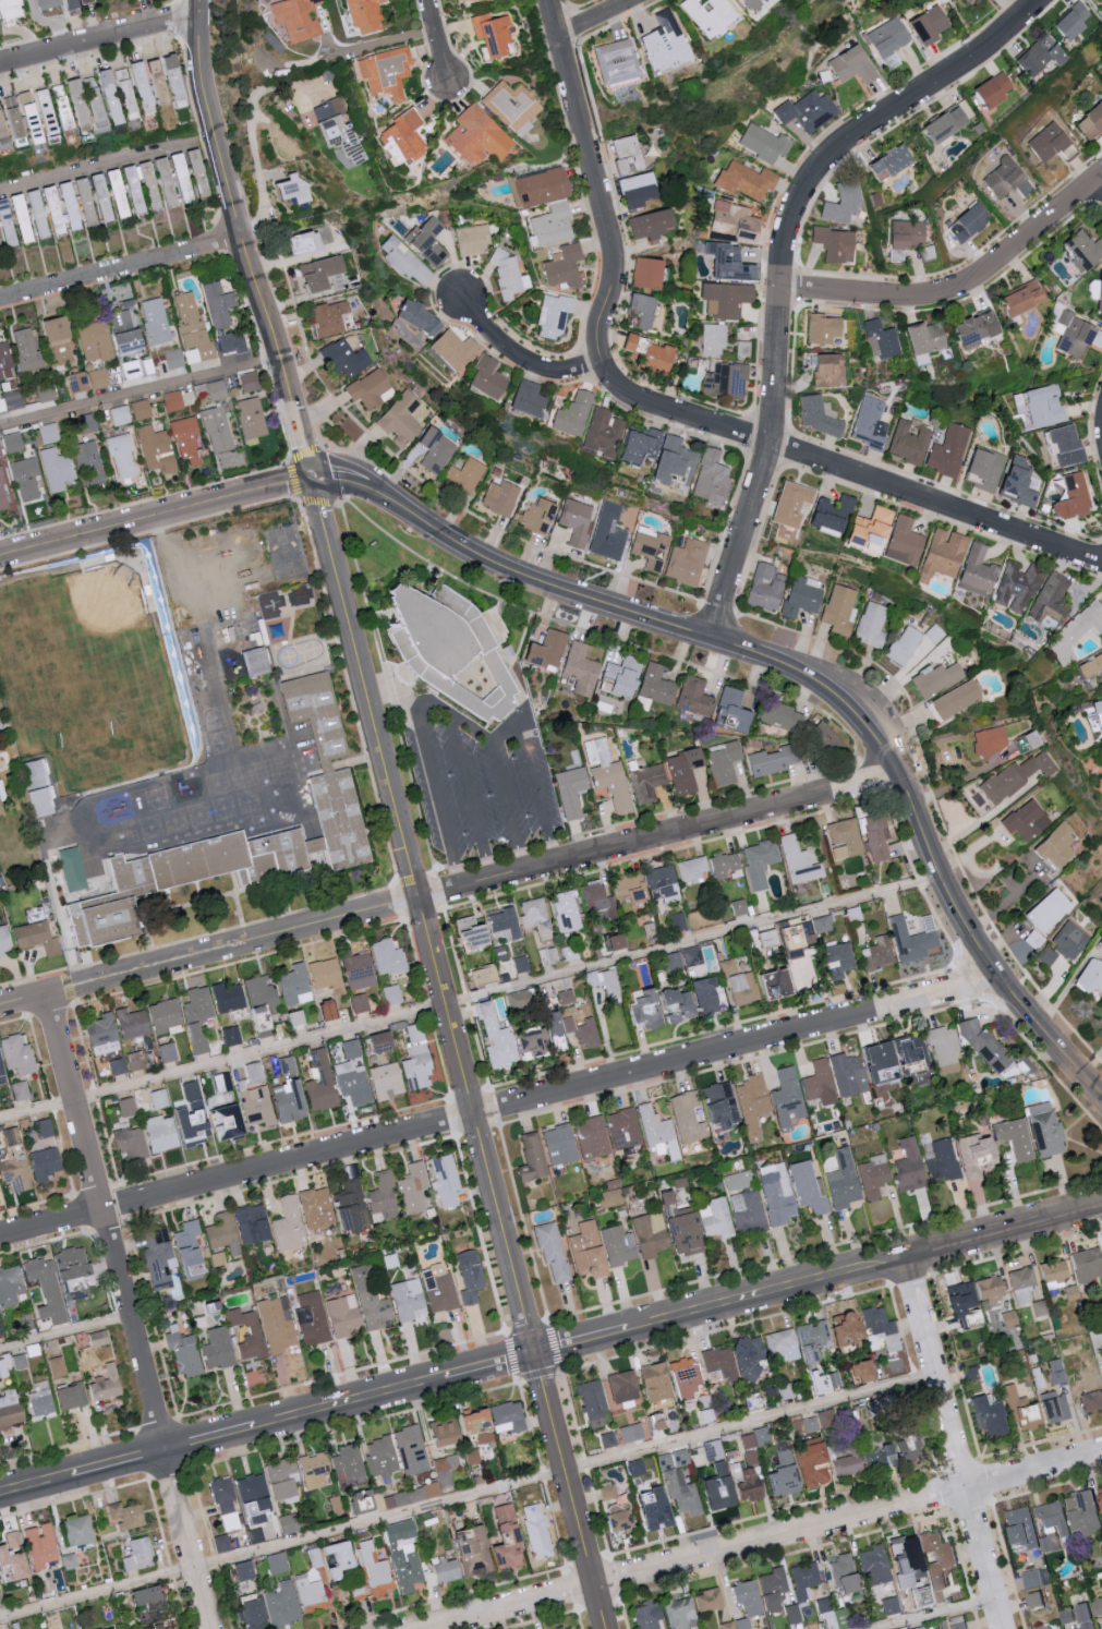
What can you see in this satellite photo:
building: (967, 0)
building: (988, 0)
building: (85, 1)
building: (1100, 1)
building: (50, 3)
building: (749, 3)
building: (71, 4)
building: (12, 8)
road: (202, 8)
building: (707, 14)
building: (366, 15)
road: (601, 17)
building: (1069, 21)
building: (927, 24)
building: (495, 33)
building: (663, 37)
building: (886, 40)
road: (439, 41)
road: (100, 43)
road: (380, 43)
building: (1038, 56)
building: (615, 61)
building: (852, 64)
building: (385, 72)
building: (170, 81)
building: (144, 87)
building: (126, 89)
building: (989, 89)
building: (97, 99)
road: (252, 101)
building: (513, 105)
building: (27, 109)
building: (806, 110)
building: (47, 111)
building: (64, 112)
building: (1089, 120)
building: (10, 123)
building: (941, 123)
building: (480, 136)
building: (404, 137)
building: (341, 138)
building: (762, 143)
building: (1043, 143)
building: (622, 154)
building: (885, 160)
road: (108, 164)
building: (201, 172)
building: (184, 177)
building: (1000, 179)
building: (743, 180)
building: (160, 183)
road: (1099, 183)
building: (543, 186)
building: (295, 188)
building: (632, 190)
building: (121, 193)
building: (105, 197)
building: (88, 202)
building: (839, 204)
building: (73, 206)
road: (264, 208)
building: (57, 209)
building: (40, 214)
building: (24, 218)
building: (732, 220)
building: (9, 222)
building: (965, 224)
building: (553, 225)
building: (645, 225)
building: (903, 237)
building: (473, 240)
building: (431, 241)
building: (307, 242)
building: (389, 242)
building: (833, 243)
building: (0, 244)
building: (1080, 249)
road: (247, 252)
building: (928, 252)
building: (727, 263)
building: (409, 265)
building: (565, 265)
road: (783, 265)
road: (121, 267)
building: (323, 271)
building: (509, 274)
building: (644, 274)
road: (960, 289)
building: (1098, 292)
building: (724, 299)
building: (1017, 299)
building: (220, 304)
building: (638, 310)
building: (554, 315)
building: (421, 316)
building: (331, 317)
building: (157, 321)
building: (193, 327)
building: (821, 328)
building: (970, 329)
building: (128, 331)
building: (1075, 335)
building: (713, 339)
building: (881, 340)
building: (61, 341)
building: (96, 341)
building: (921, 341)
building: (234, 343)
building: (627, 343)
building: (741, 348)
building: (27, 349)
building: (457, 349)
building: (347, 358)
road: (522, 358)
building: (652, 358)
building: (174, 359)
building: (5, 362)
building: (138, 367)
building: (825, 370)
building: (99, 378)
building: (491, 378)
building: (724, 381)
building: (80, 382)
building: (251, 382)
building: (218, 389)
building: (372, 389)
building: (47, 393)
road: (140, 394)
building: (196, 395)
building: (530, 398)
building: (174, 400)
building: (12, 401)
building: (1034, 407)
building: (142, 409)
road: (667, 410)
building: (574, 413)
building: (815, 414)
building: (121, 415)
building: (252, 418)
building: (400, 421)
building: (89, 422)
building: (868, 427)
building: (218, 430)
building: (605, 432)
building: (50, 433)
building: (190, 441)
building: (907, 442)
building: (14, 443)
building: (642, 445)
building: (1063, 445)
building: (157, 449)
building: (1, 450)
building: (438, 450)
building: (947, 450)
building: (123, 456)
building: (675, 459)
building: (90, 463)
building: (58, 469)
building: (467, 475)
building: (1001, 475)
building: (712, 476)
building: (26, 479)
traffic signals: (314, 484)
building: (4, 492)
building: (501, 497)
building: (789, 503)
building: (829, 512)
building: (538, 516)
road: (156, 519)
building: (578, 520)
building: (867, 528)
building: (609, 532)
building: (904, 542)
building: (652, 547)
building: (941, 553)
building: (688, 562)
building: (977, 571)
building: (764, 587)
building: (1016, 587)
building: (802, 595)
building: (298, 598)
building: (1052, 599)
building: (839, 608)
building: (270, 611)
building: (872, 625)
building: (480, 628)
building: (1077, 629)
building: (422, 632)
building: (904, 643)
building: (548, 650)
building: (259, 666)
building: (581, 669)
road: (803, 674)
building: (621, 677)
building: (935, 677)
building: (656, 685)
building: (692, 696)
building: (954, 699)
road: (428, 703)
building: (729, 707)
building: (777, 714)
building: (1097, 715)
building: (254, 721)
road: (468, 724)
road: (505, 736)
building: (821, 736)
building: (1029, 738)
building: (988, 740)
building: (770, 760)
building: (723, 762)
building: (682, 770)
building: (36, 774)
building: (1015, 776)
building: (332, 777)
building: (647, 782)
building: (614, 784)
building: (572, 792)
building: (1, 796)
road: (538, 799)
building: (43, 803)
road: (506, 807)
building: (1025, 820)
building: (875, 836)
road: (1001, 836)
building: (843, 837)
building: (1055, 844)
building: (756, 860)
building: (796, 860)
building: (720, 864)
building: (689, 868)
building: (74, 869)
building: (661, 882)
building: (191, 885)
building: (627, 886)
road: (450, 893)
building: (594, 900)
building: (739, 906)
building: (1045, 909)
building: (564, 910)
building: (532, 914)
building: (676, 920)
building: (821, 922)
building: (504, 925)
building: (475, 933)
building: (795, 934)
building: (38, 938)
building: (762, 939)
building: (909, 939)
building: (1033, 939)
building: (5, 940)
building: (610, 940)
building: (1063, 944)
building: (877, 952)
building: (547, 955)
building: (389, 957)
building: (682, 957)
building: (835, 960)
building: (518, 964)
building: (727, 966)
building: (361, 970)
building: (801, 970)
building: (327, 974)
building: (1088, 975)
building: (479, 976)
building: (602, 981)
building: (770, 982)
building: (295, 986)
building: (741, 987)
building: (392, 994)
building: (700, 994)
building: (262, 995)
building: (565, 995)
building: (230, 998)
building: (516, 998)
road: (470, 1001)
building: (361, 1003)
building: (199, 1005)
building: (656, 1005)
building: (331, 1011)
building: (167, 1015)
building: (298, 1017)
building: (549, 1022)
building: (134, 1023)
building: (582, 1030)
building: (417, 1034)
building: (104, 1035)
building: (232, 1036)
building: (198, 1038)
building: (506, 1038)
building: (385, 1042)
building: (943, 1048)
building: (353, 1049)
building: (909, 1049)
building: (169, 1052)
building: (19, 1055)
road: (460, 1057)
building: (137, 1061)
building: (118, 1066)
building: (288, 1066)
building: (419, 1067)
building: (860, 1067)
building: (2, 1070)
building: (255, 1073)
building: (387, 1082)
building: (225, 1083)
building: (353, 1083)
building: (819, 1083)
building: (323, 1085)
building: (21, 1090)
building: (786, 1097)
building: (160, 1099)
building: (290, 1101)
building: (751, 1103)
building: (257, 1106)
building: (128, 1108)
road: (500, 1109)
building: (702, 1110)
building: (194, 1117)
building: (230, 1123)
building: (622, 1127)
building: (1043, 1127)
building: (44, 1129)
building: (657, 1131)
building: (162, 1134)
building: (13, 1136)
building: (592, 1136)
building: (1013, 1136)
building: (132, 1142)
building: (558, 1144)
building: (973, 1153)
building: (531, 1156)
building: (943, 1161)
building: (47, 1163)
building: (907, 1166)
building: (16, 1174)
building: (872, 1174)
building: (444, 1180)
building: (737, 1180)
building: (841, 1180)
building: (412, 1187)
building: (808, 1187)
building: (0, 1191)
building: (382, 1197)
building: (777, 1199)
road: (1100, 1202)
road: (1100, 1205)
building: (334, 1206)
building: (747, 1210)
building: (713, 1217)
road: (106, 1224)
building: (253, 1224)
building: (289, 1224)
building: (680, 1232)
building: (223, 1233)
building: (647, 1233)
building: (617, 1244)
building: (1101, 1246)
building: (585, 1251)
building: (550, 1252)
building: (159, 1258)
building: (218, 1259)
building: (1086, 1263)
building: (77, 1269)
building: (1052, 1272)
building: (468, 1275)
road: (818, 1284)
building: (1020, 1284)
building: (11, 1287)
building: (438, 1287)
building: (986, 1288)
building: (49, 1289)
building: (958, 1298)
building: (408, 1299)
building: (372, 1305)
building: (1037, 1307)
building: (342, 1314)
building: (1007, 1317)
building: (313, 1318)
building: (278, 1323)
building: (879, 1329)
building: (256, 1332)
building: (823, 1334)
road: (65, 1336)
building: (100, 1339)
building: (780, 1346)
building: (219, 1349)
building: (185, 1354)
building: (746, 1356)
building: (718, 1363)
building: (59, 1367)
building: (1056, 1369)
building: (858, 1371)
building: (969, 1373)
building: (653, 1380)
building: (826, 1380)
building: (1076, 1381)
building: (108, 1385)
building: (621, 1386)
building: (785, 1390)
building: (1089, 1396)
building: (74, 1397)
building: (590, 1398)
building: (43, 1404)
building: (1017, 1408)
building: (1049, 1408)
building: (10, 1409)
building: (505, 1416)
building: (984, 1416)
road: (267, 1423)
building: (812, 1423)
building: (471, 1424)
building: (439, 1432)
building: (630, 1432)
building: (754, 1437)
building: (606, 1438)
road: (954, 1446)
building: (411, 1448)
building: (712, 1449)
building: (888, 1449)
building: (382, 1456)
building: (471, 1456)
building: (751, 1457)
building: (670, 1459)
building: (347, 1461)
building: (808, 1463)
building: (844, 1465)
building: (633, 1467)
building: (312, 1469)
building: (443, 1475)
building: (779, 1475)
building: (280, 1477)
building: (744, 1481)
building: (250, 1486)
building: (714, 1488)
building: (607, 1491)
building: (679, 1492)
building: (220, 1494)
building: (1099, 1497)
road: (468, 1498)
building: (356, 1503)
building: (335, 1504)
building: (650, 1509)
building: (1080, 1511)
building: (128, 1515)
building: (613, 1519)
building: (228, 1521)
building: (1051, 1523)
building: (284, 1524)
building: (1018, 1527)
building: (80, 1530)
building: (536, 1530)
building: (254, 1535)
road: (183, 1538)
building: (505, 1538)
road: (766, 1540)
building: (219, 1543)
building: (43, 1544)
building: (470, 1549)
building: (140, 1554)
building: (899, 1554)
building: (15, 1557)
building: (402, 1557)
building: (933, 1557)
building: (329, 1558)
building: (275, 1562)
building: (871, 1565)
building: (371, 1569)
building: (443, 1569)
building: (239, 1570)
building: (840, 1573)
building: (1033, 1577)
building: (802, 1580)
building: (308, 1591)
building: (150, 1593)
building: (754, 1596)
building: (1032, 1597)
building: (705, 1600)
building: (1, 1601)
building: (282, 1603)
building: (888, 1605)
building: (1095, 1606)
building: (251, 1613)
building: (677, 1613)
road: (935, 1613)
building: (644, 1615)
building: (1076, 1615)
building: (954, 1622)
building: (1040, 1626)
building: (164, 1627)
building: (564, 1627)
building: (113, 1628)

